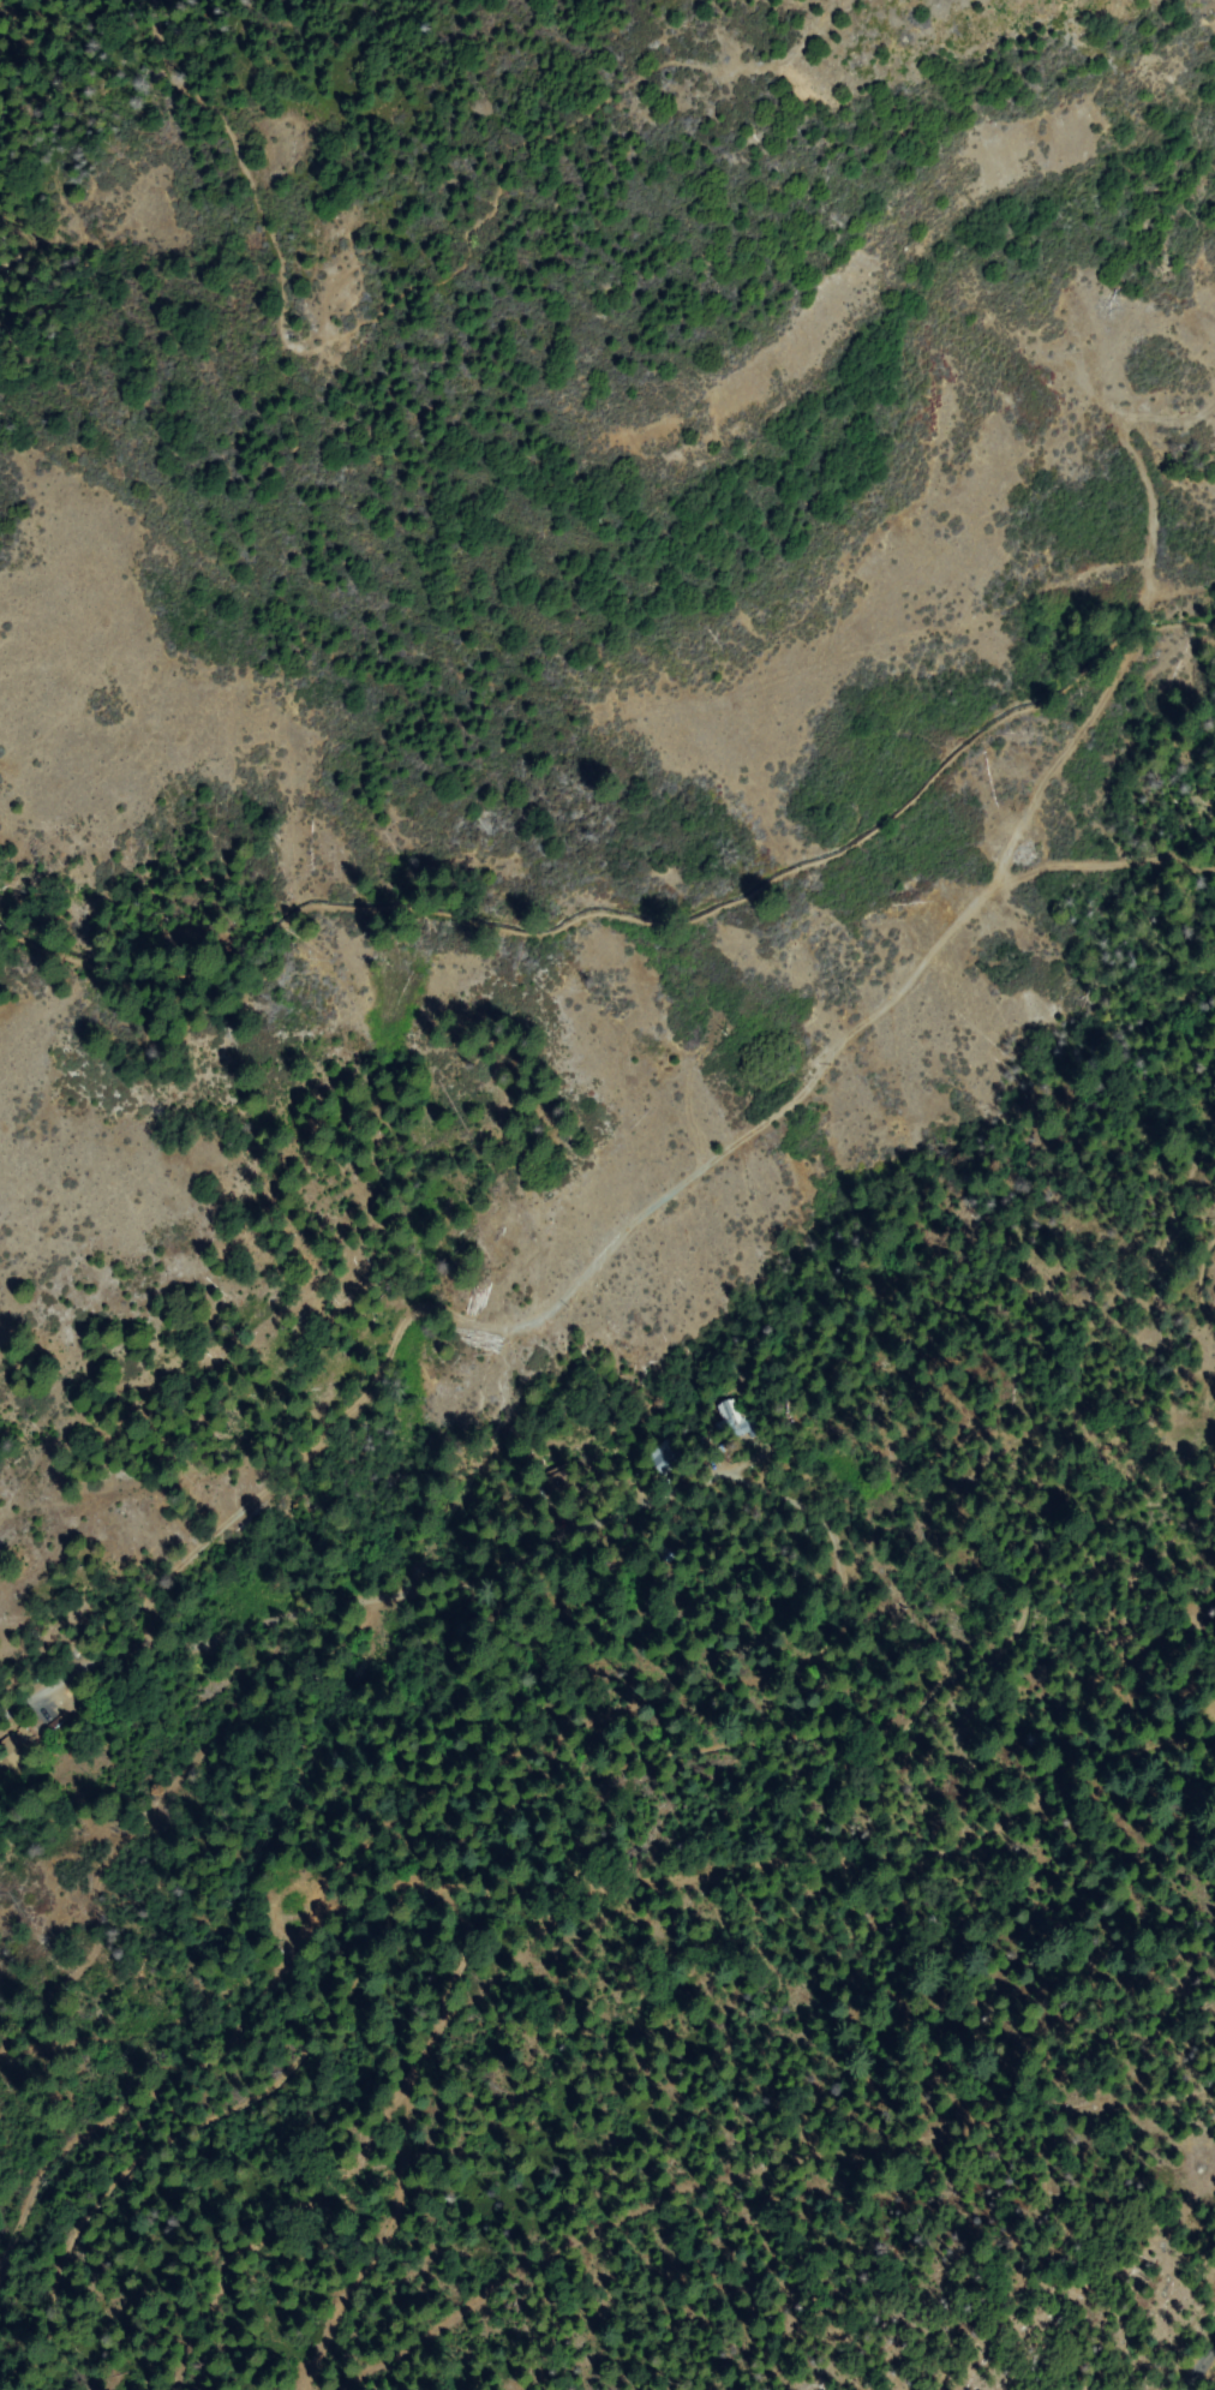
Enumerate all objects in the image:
road: (1053, 709)
building: (735, 1422)
building: (665, 1458)
building: (598, 1475)
building: (557, 1483)
building: (662, 1553)
road: (46, 1697)
building: (19, 1747)
road: (1201, 2365)

